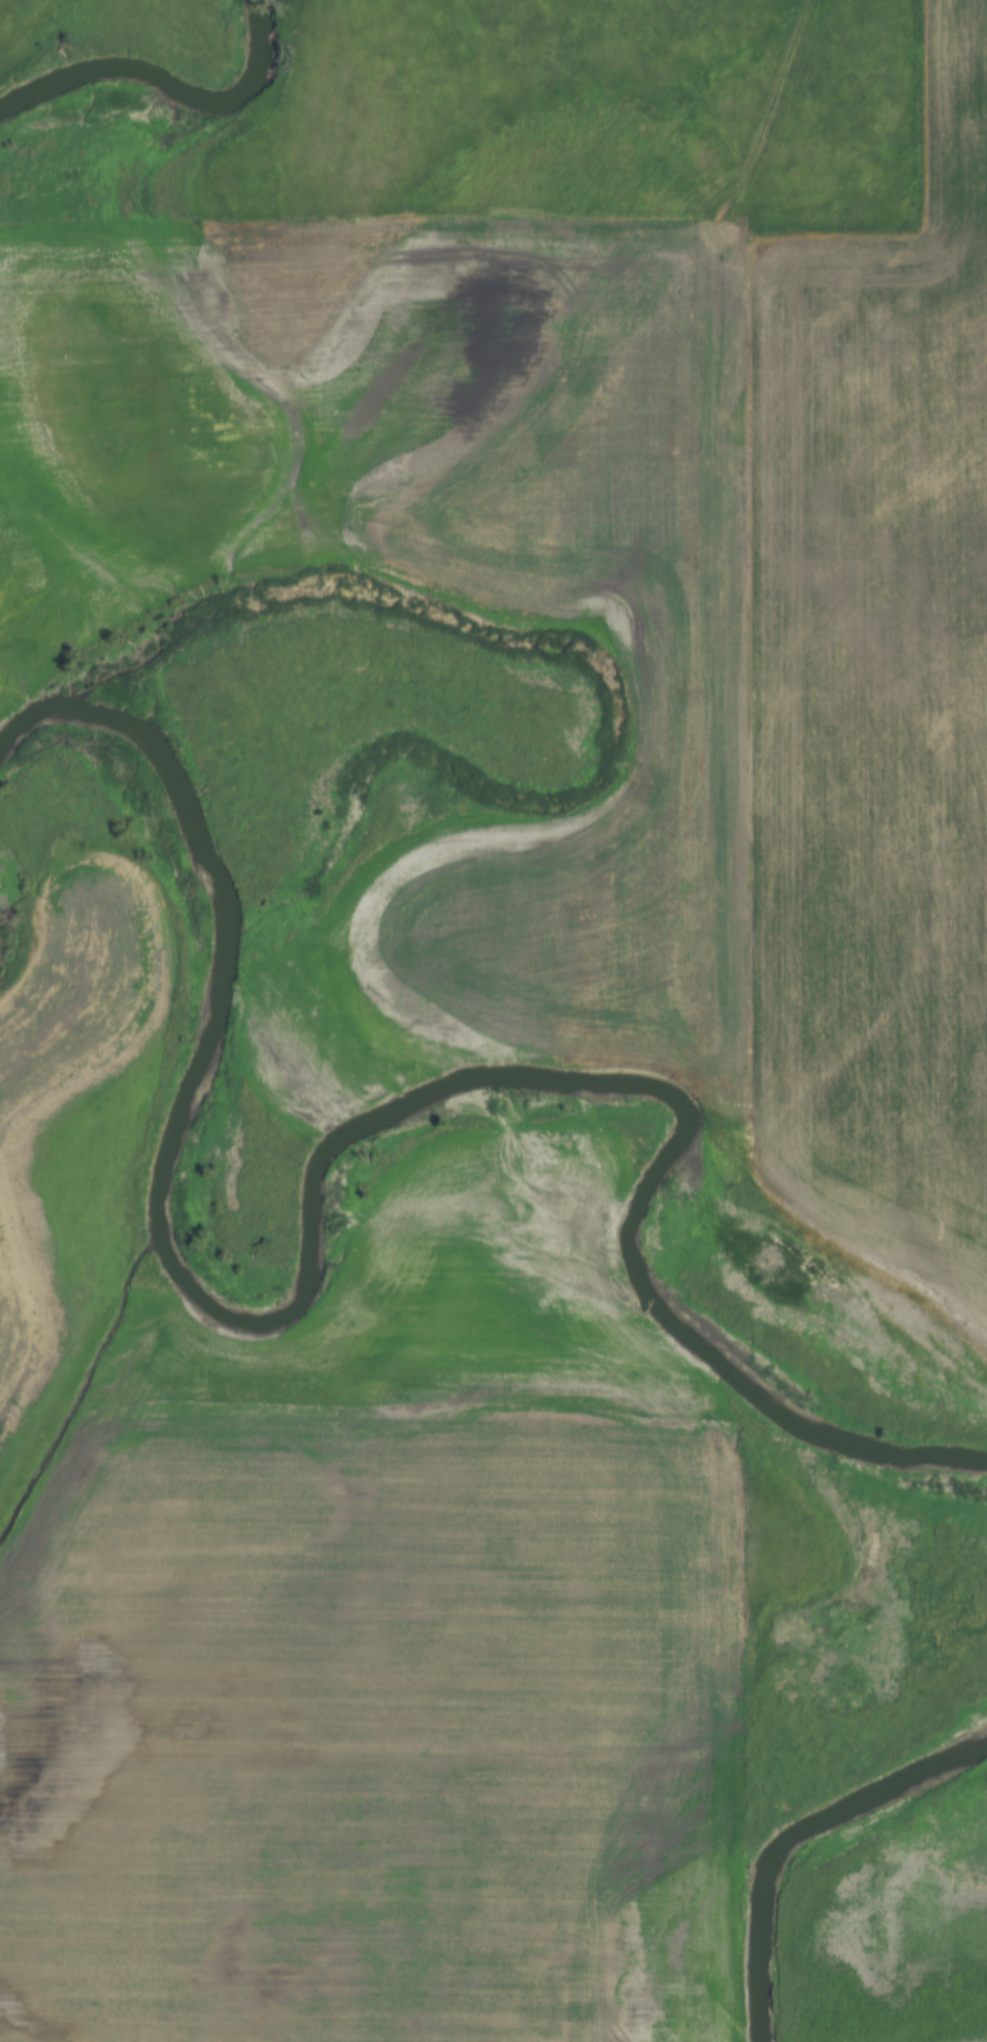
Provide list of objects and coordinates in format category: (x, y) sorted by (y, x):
river: (161, 93)
river: (213, 907)
river: (644, 1095)
river: (782, 1861)

